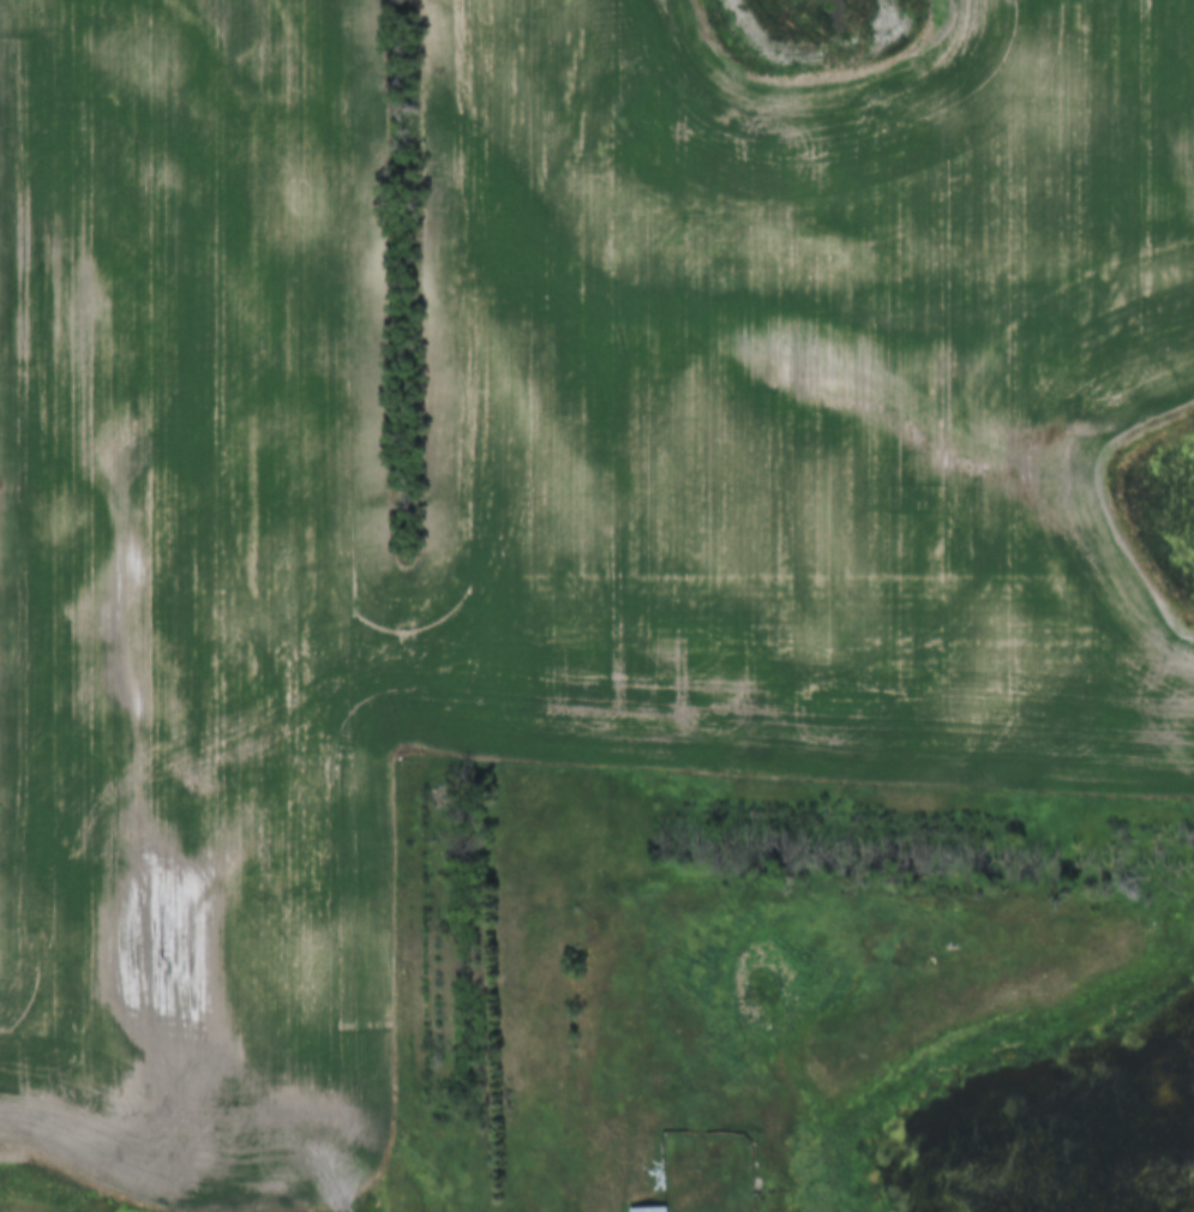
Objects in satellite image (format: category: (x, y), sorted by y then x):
building: (642, 1208)

